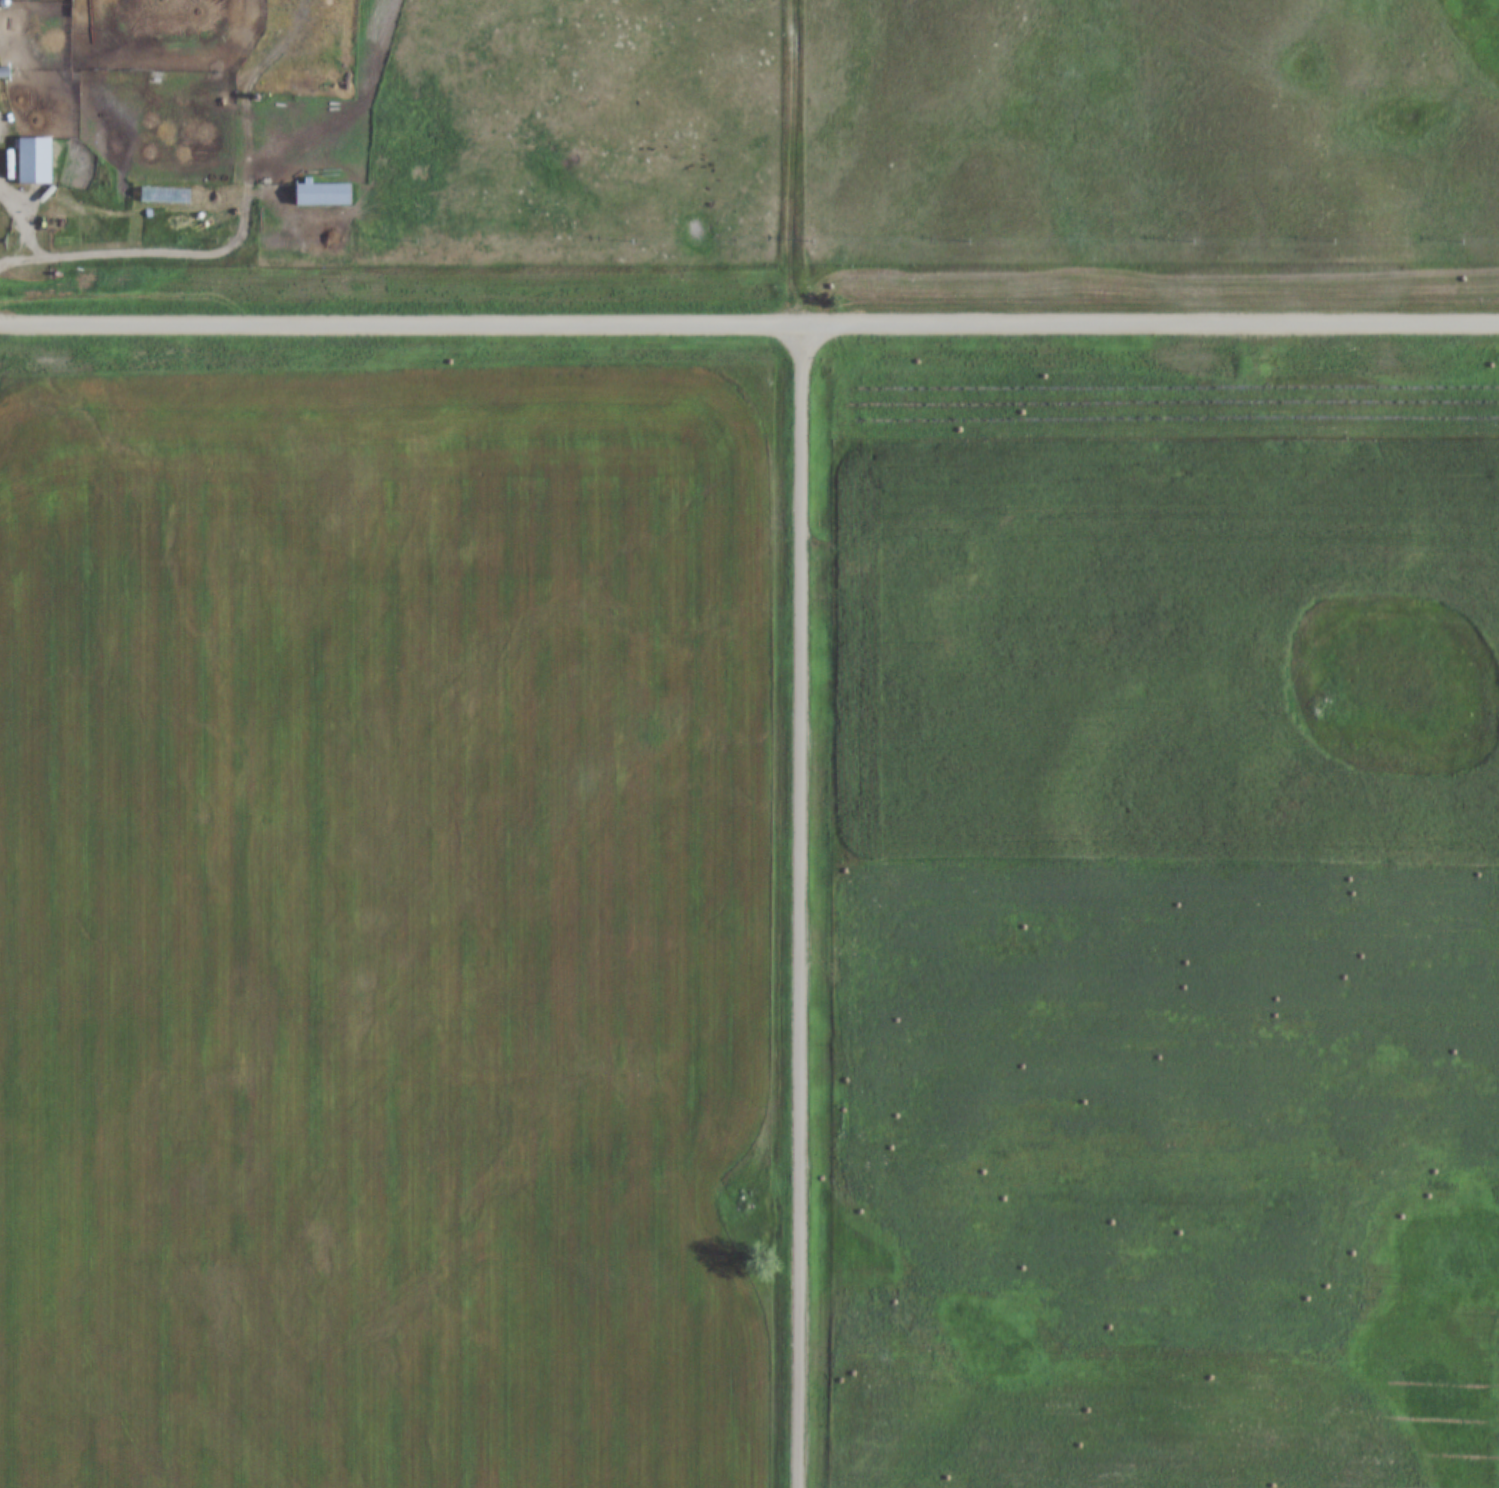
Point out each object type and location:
building: (35, 160)
road: (791, 163)
building: (323, 193)
road: (749, 323)
road: (800, 905)

